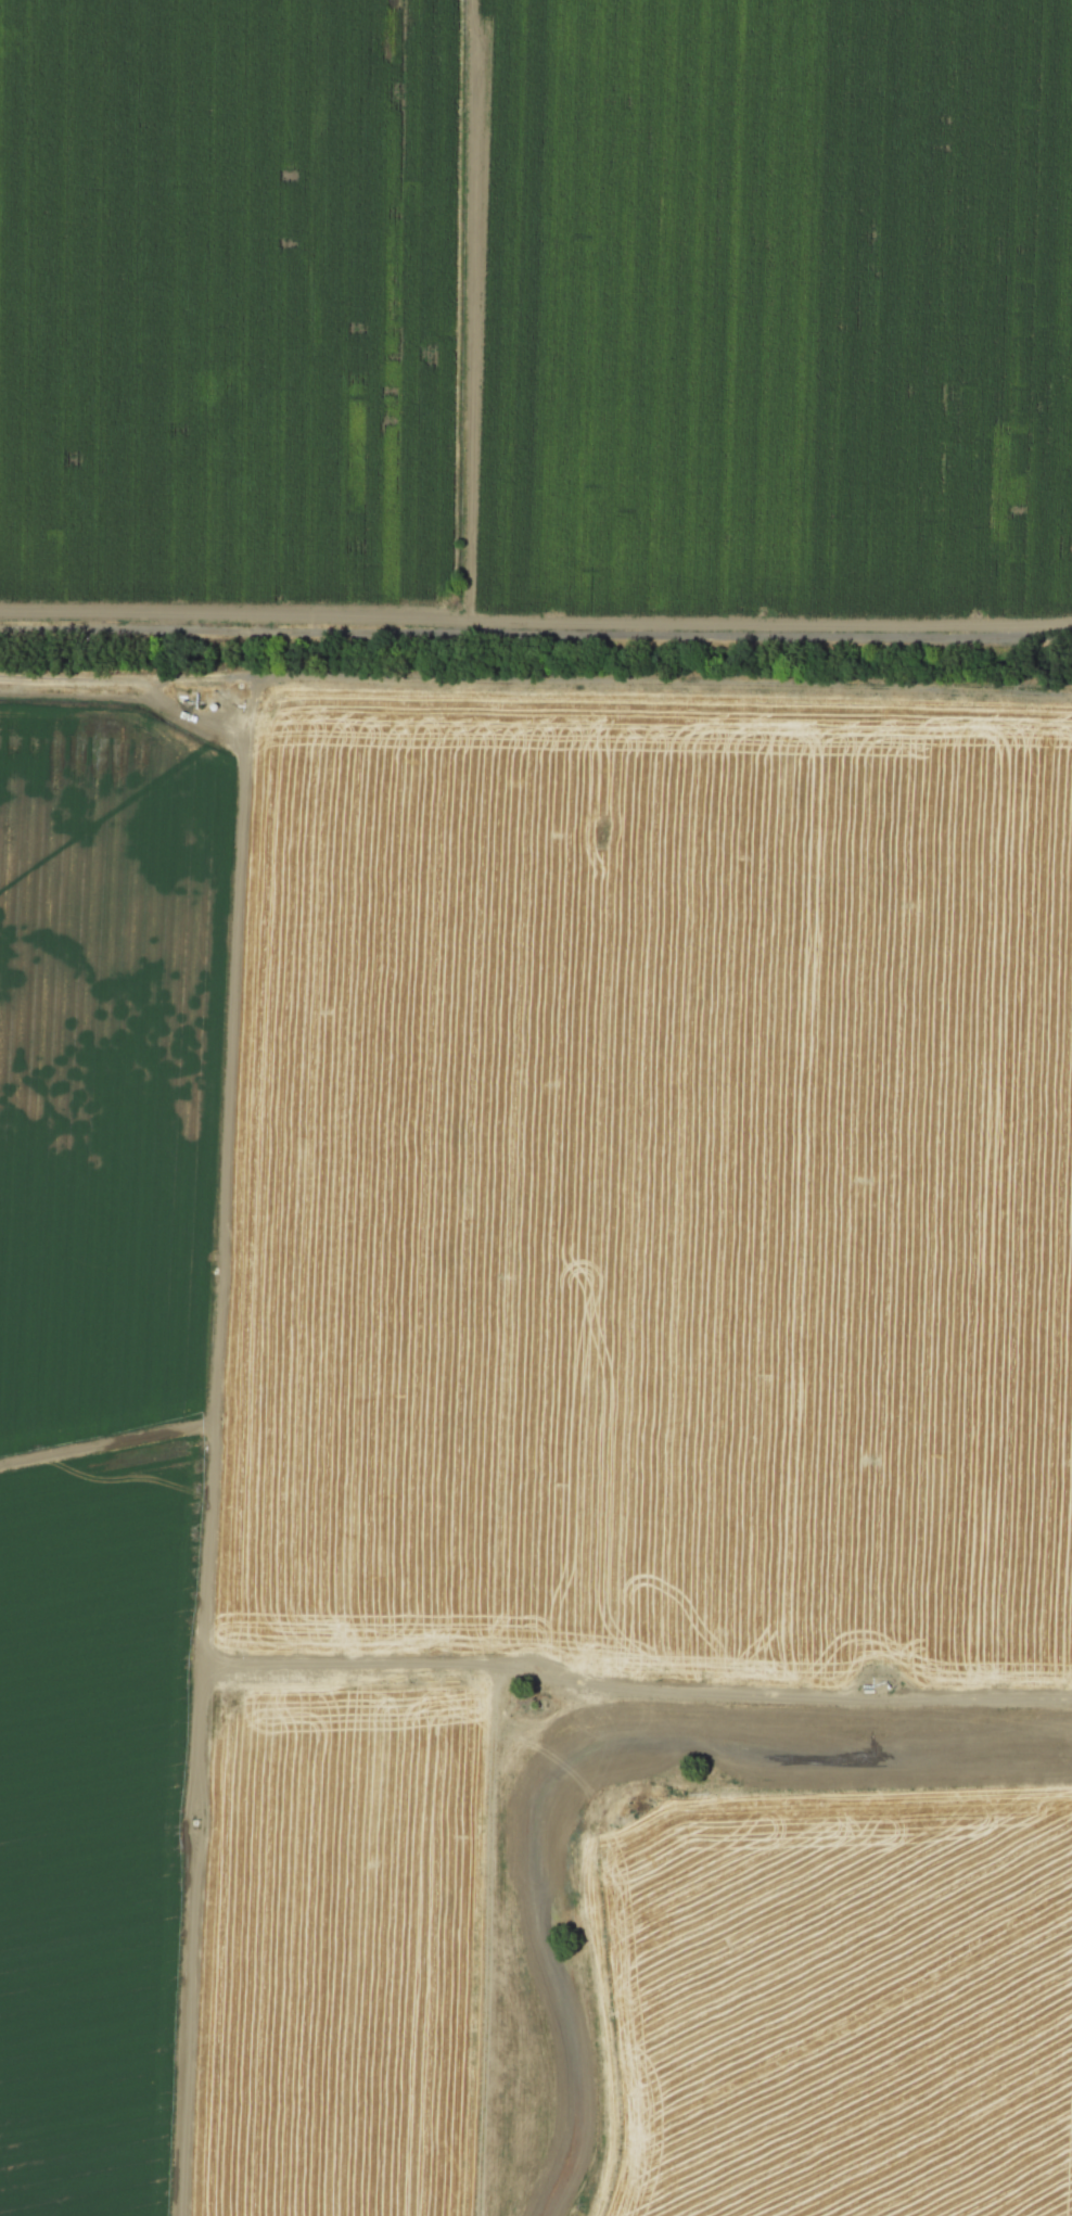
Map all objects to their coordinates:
road: (633, 684)
crop: (109, 1082)
crop: (654, 1185)
road: (107, 1447)
road: (212, 1516)
road: (643, 1820)
crop: (92, 1824)
road: (191, 1941)
crop: (334, 1947)
crop: (844, 2009)

